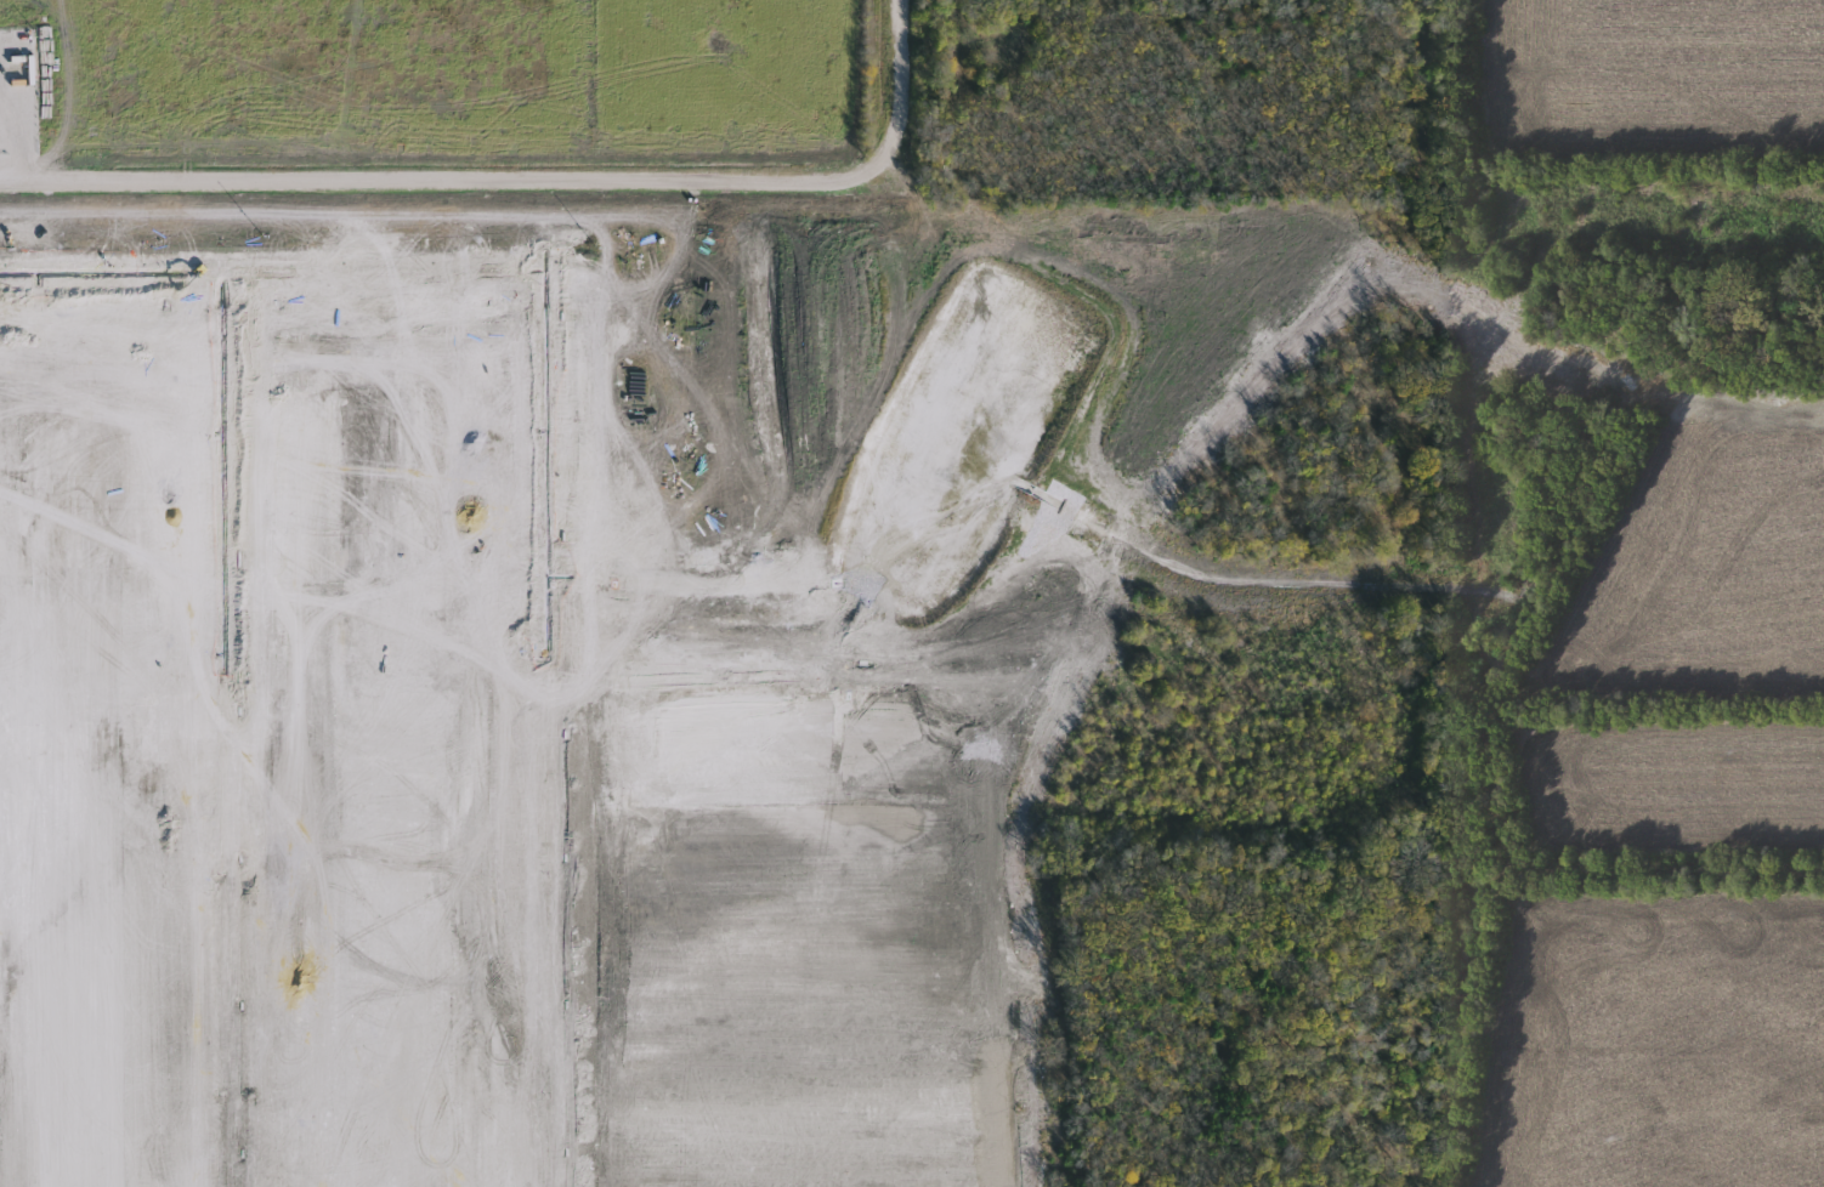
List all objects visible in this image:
road: (528, 182)
road: (1169, 549)

